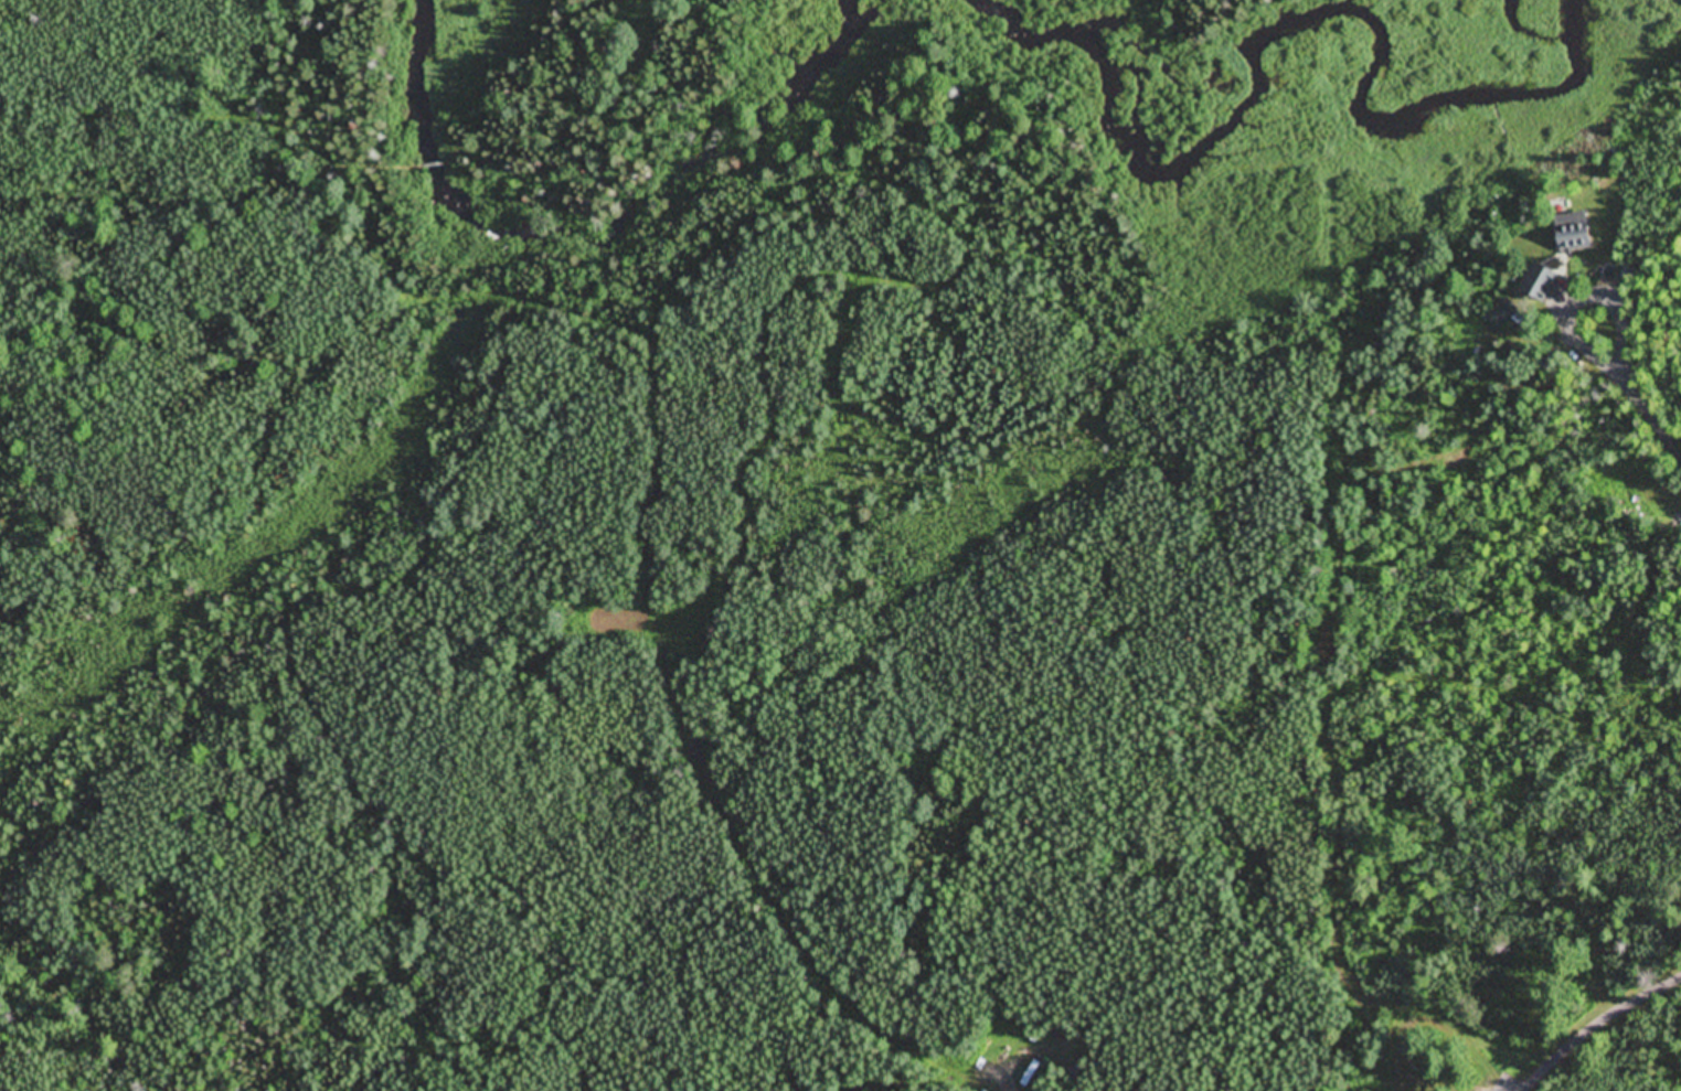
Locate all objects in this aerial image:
building: (1576, 232)
building: (1544, 282)

